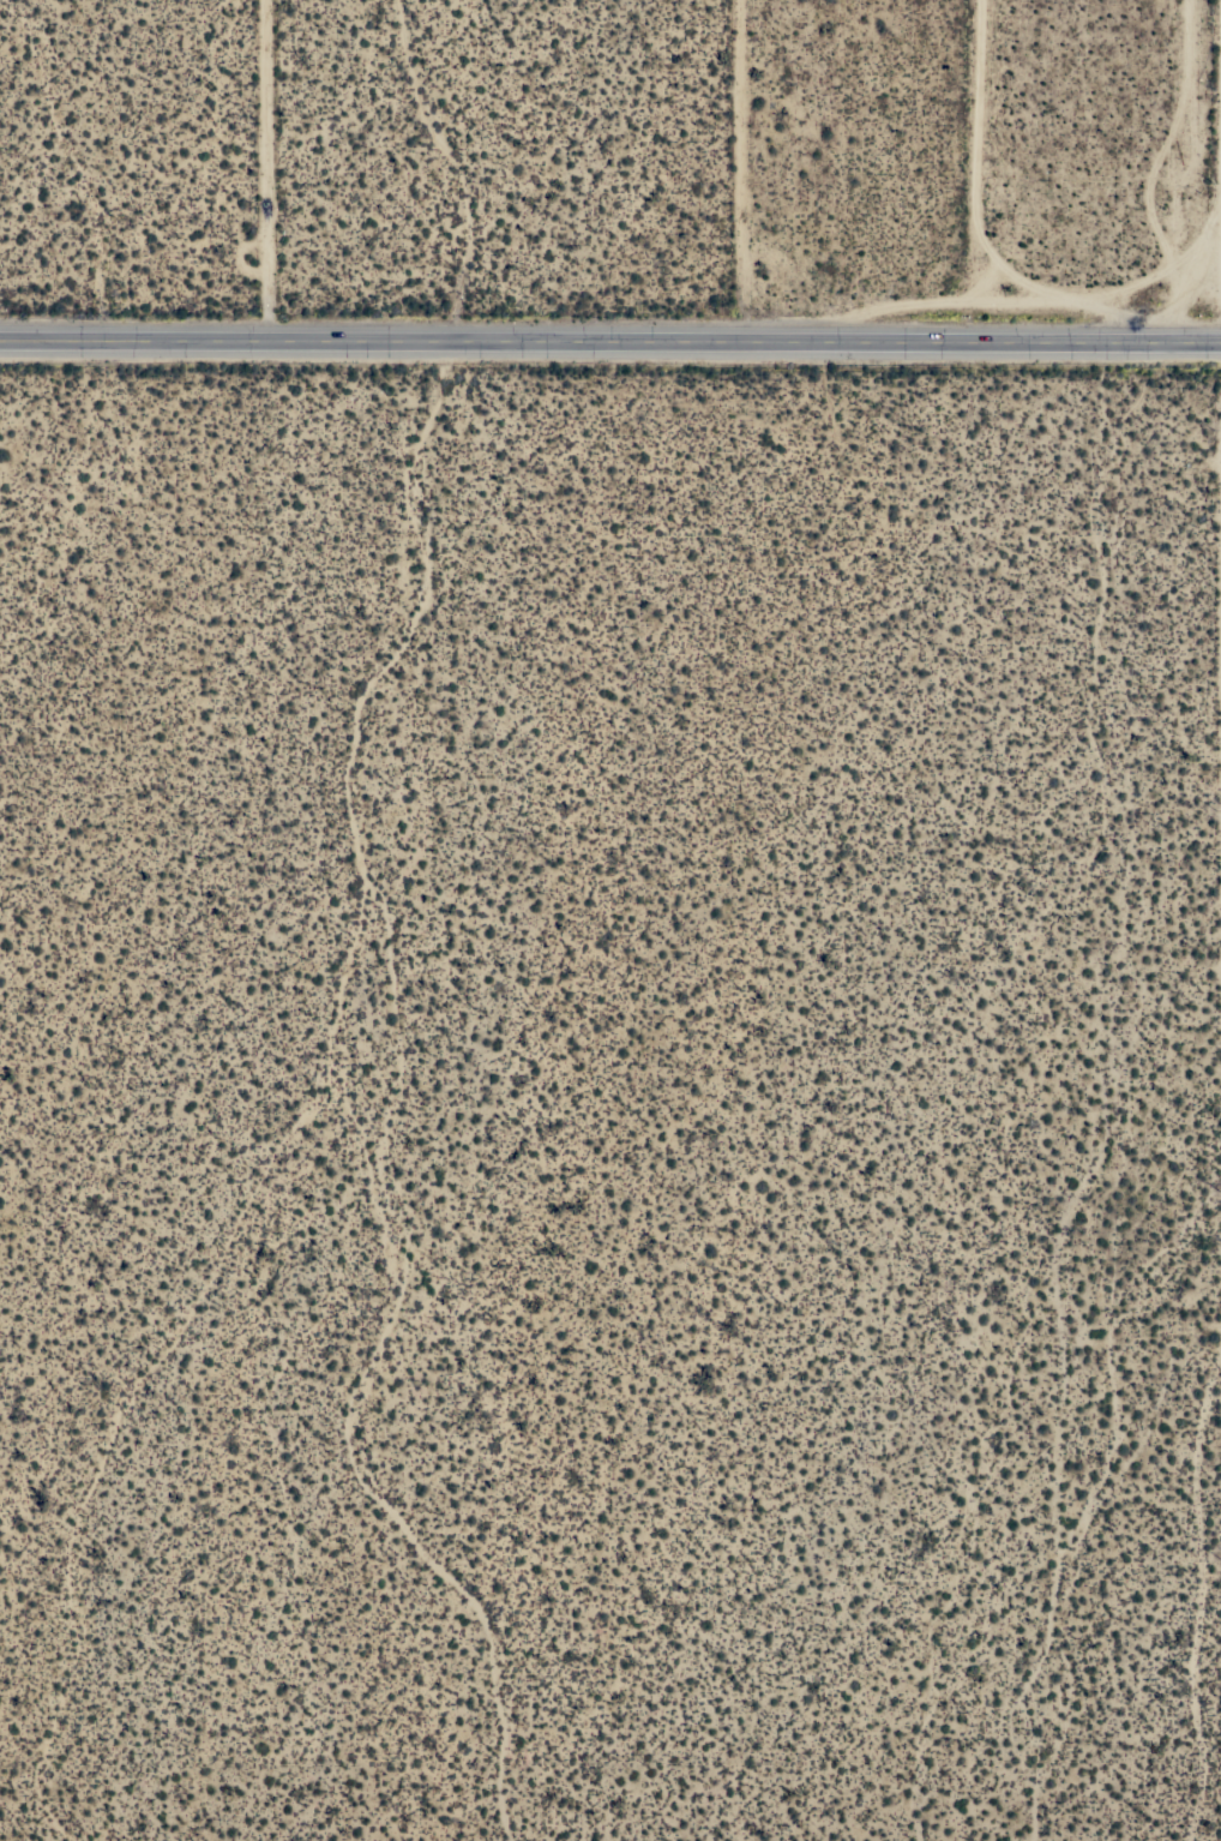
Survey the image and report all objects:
road: (270, 170)
road: (1184, 172)
road: (610, 341)

